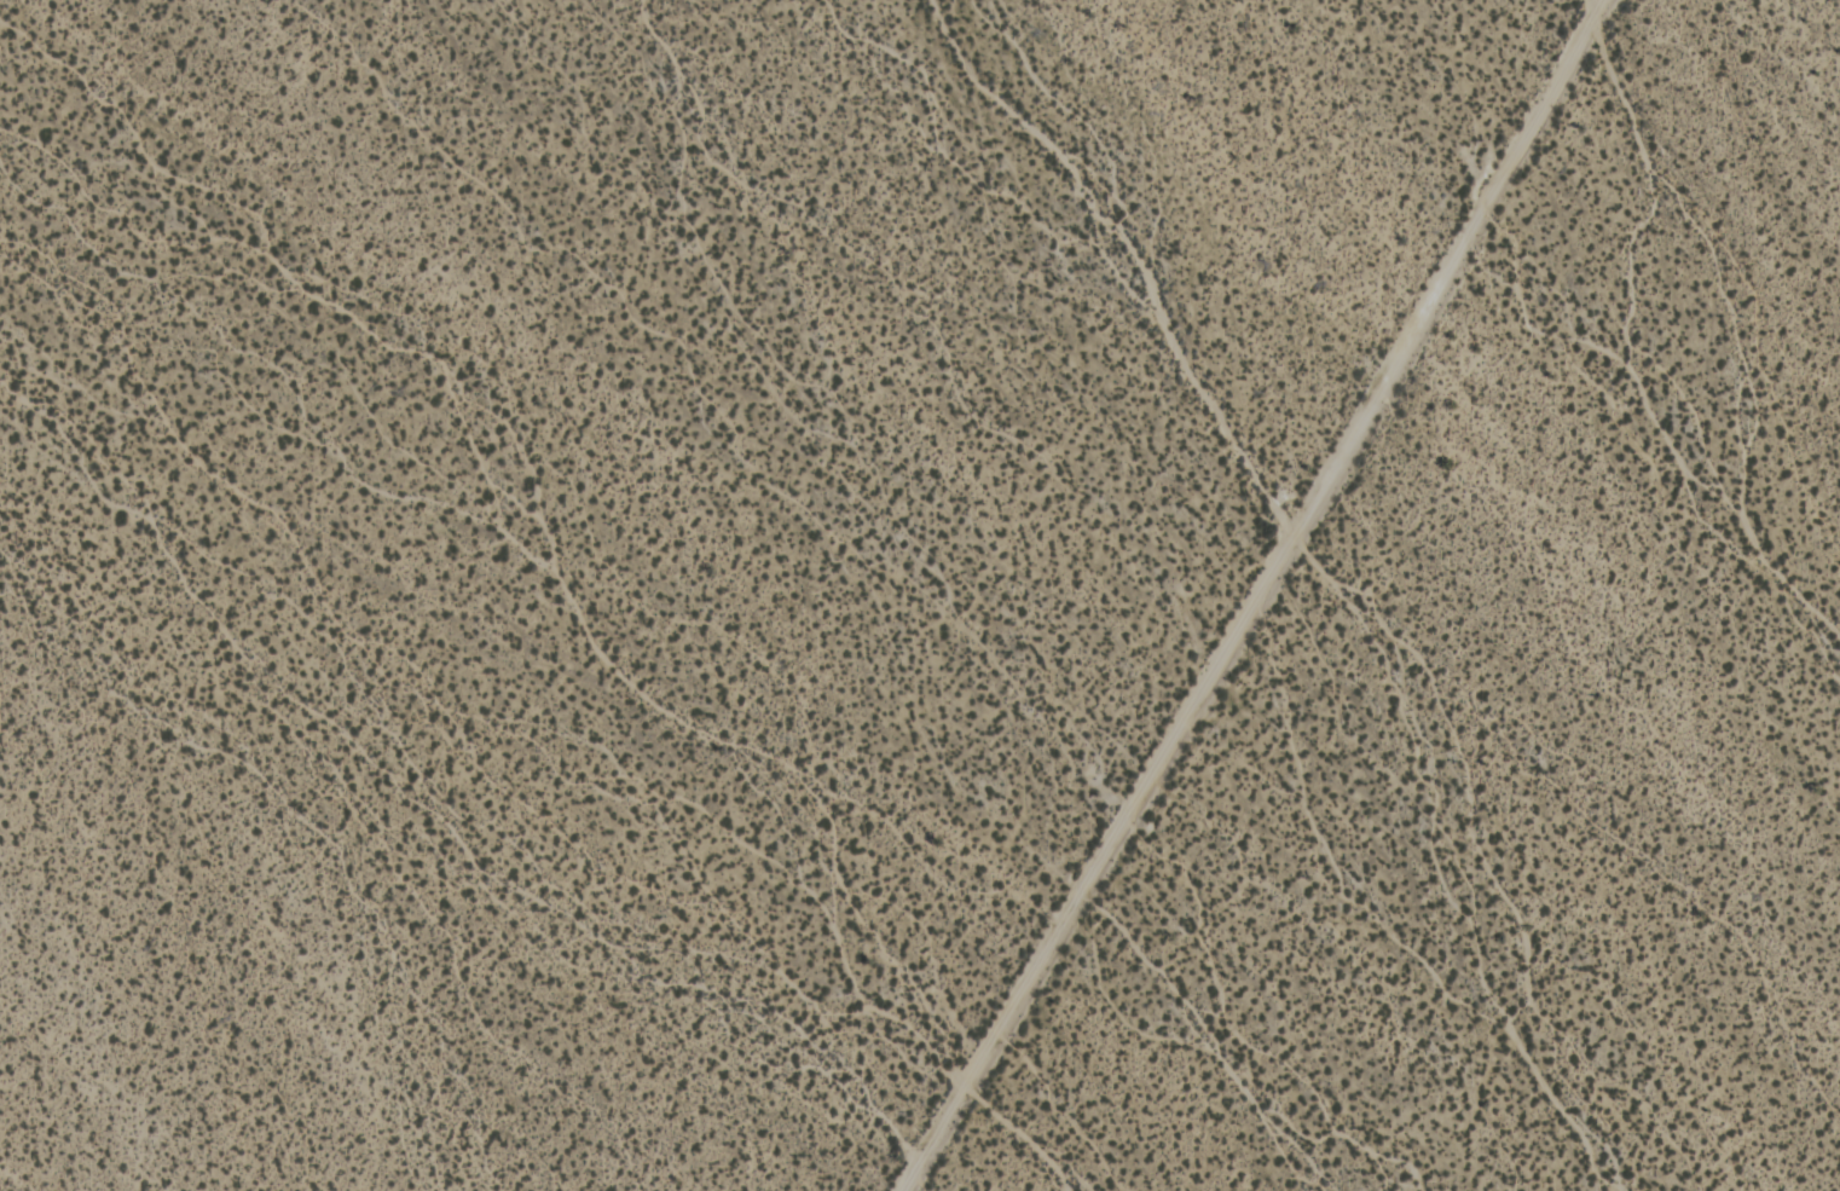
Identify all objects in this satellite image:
road: (1265, 595)

